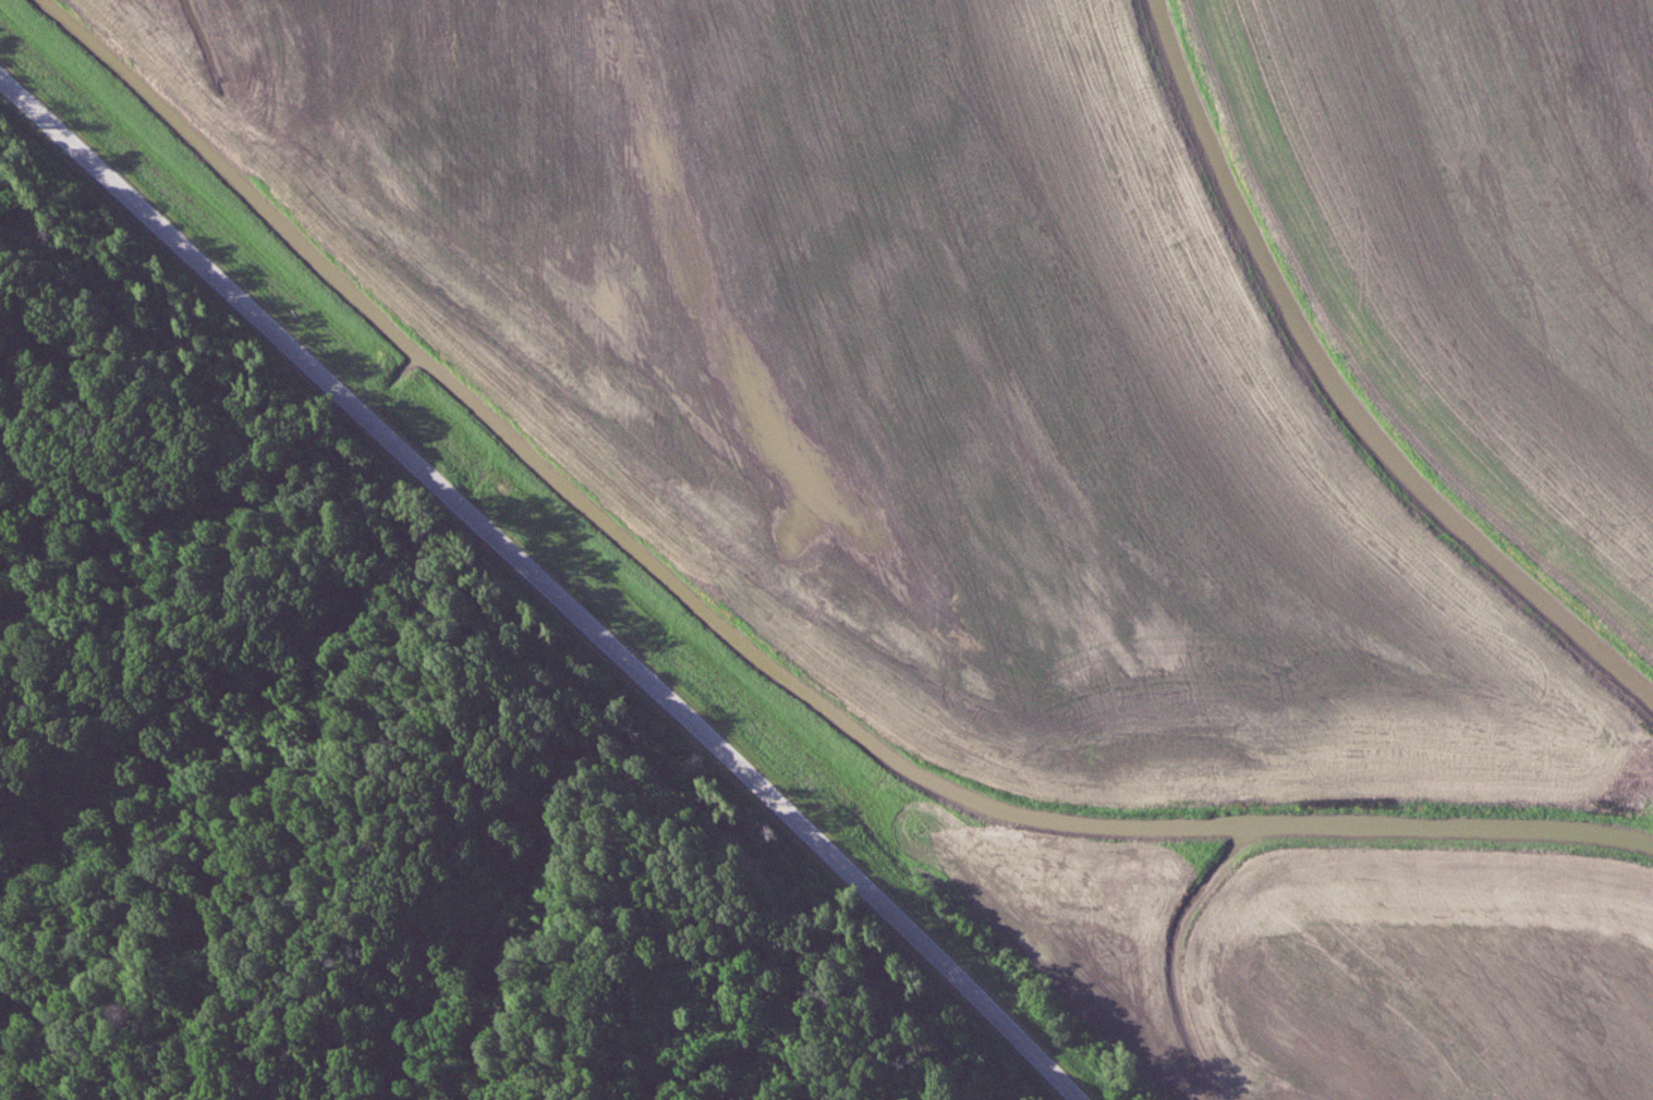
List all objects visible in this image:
road: (534, 592)

